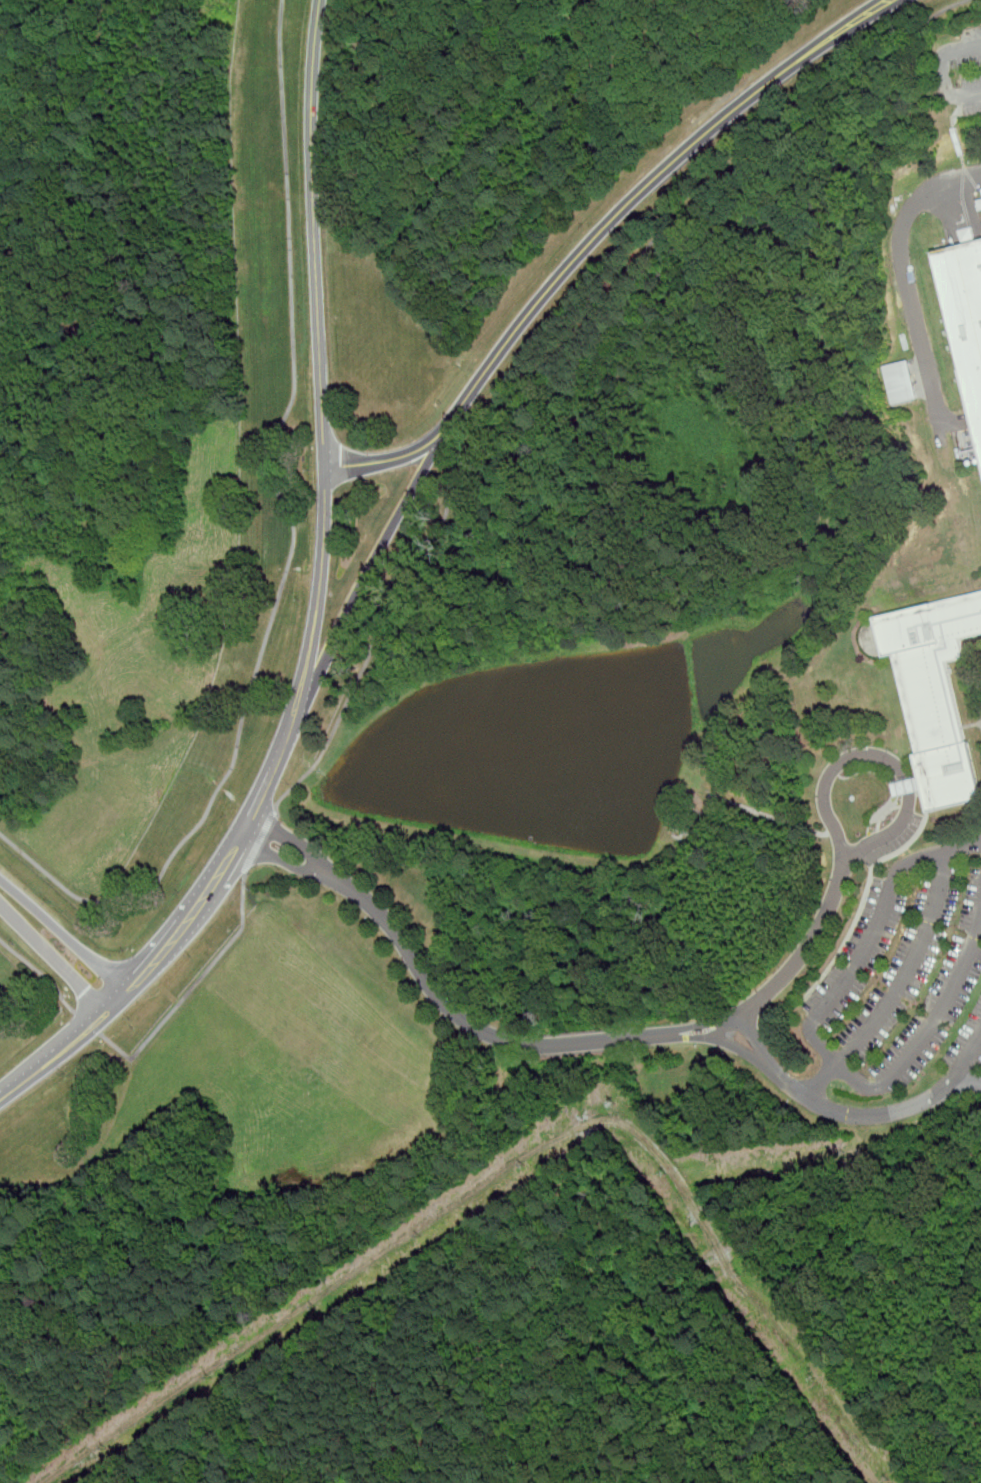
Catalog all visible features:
road: (935, 14)
road: (854, 70)
road: (943, 72)
road: (653, 178)
building: (979, 204)
road: (905, 279)
building: (964, 319)
building: (900, 383)
road: (496, 432)
road: (405, 455)
road: (293, 544)
road: (370, 567)
road: (318, 603)
building: (933, 694)
building: (906, 787)
road: (772, 816)
road: (292, 839)
road: (260, 840)
road: (939, 852)
road: (282, 859)
road: (64, 933)
road: (864, 951)
road: (53, 957)
road: (911, 966)
road: (41, 972)
road: (192, 987)
road: (940, 1009)
road: (743, 1013)
road: (88, 1021)
road: (754, 1037)
road: (733, 1044)
road: (837, 1062)
road: (856, 1079)
road: (968, 1080)
road: (880, 1115)

